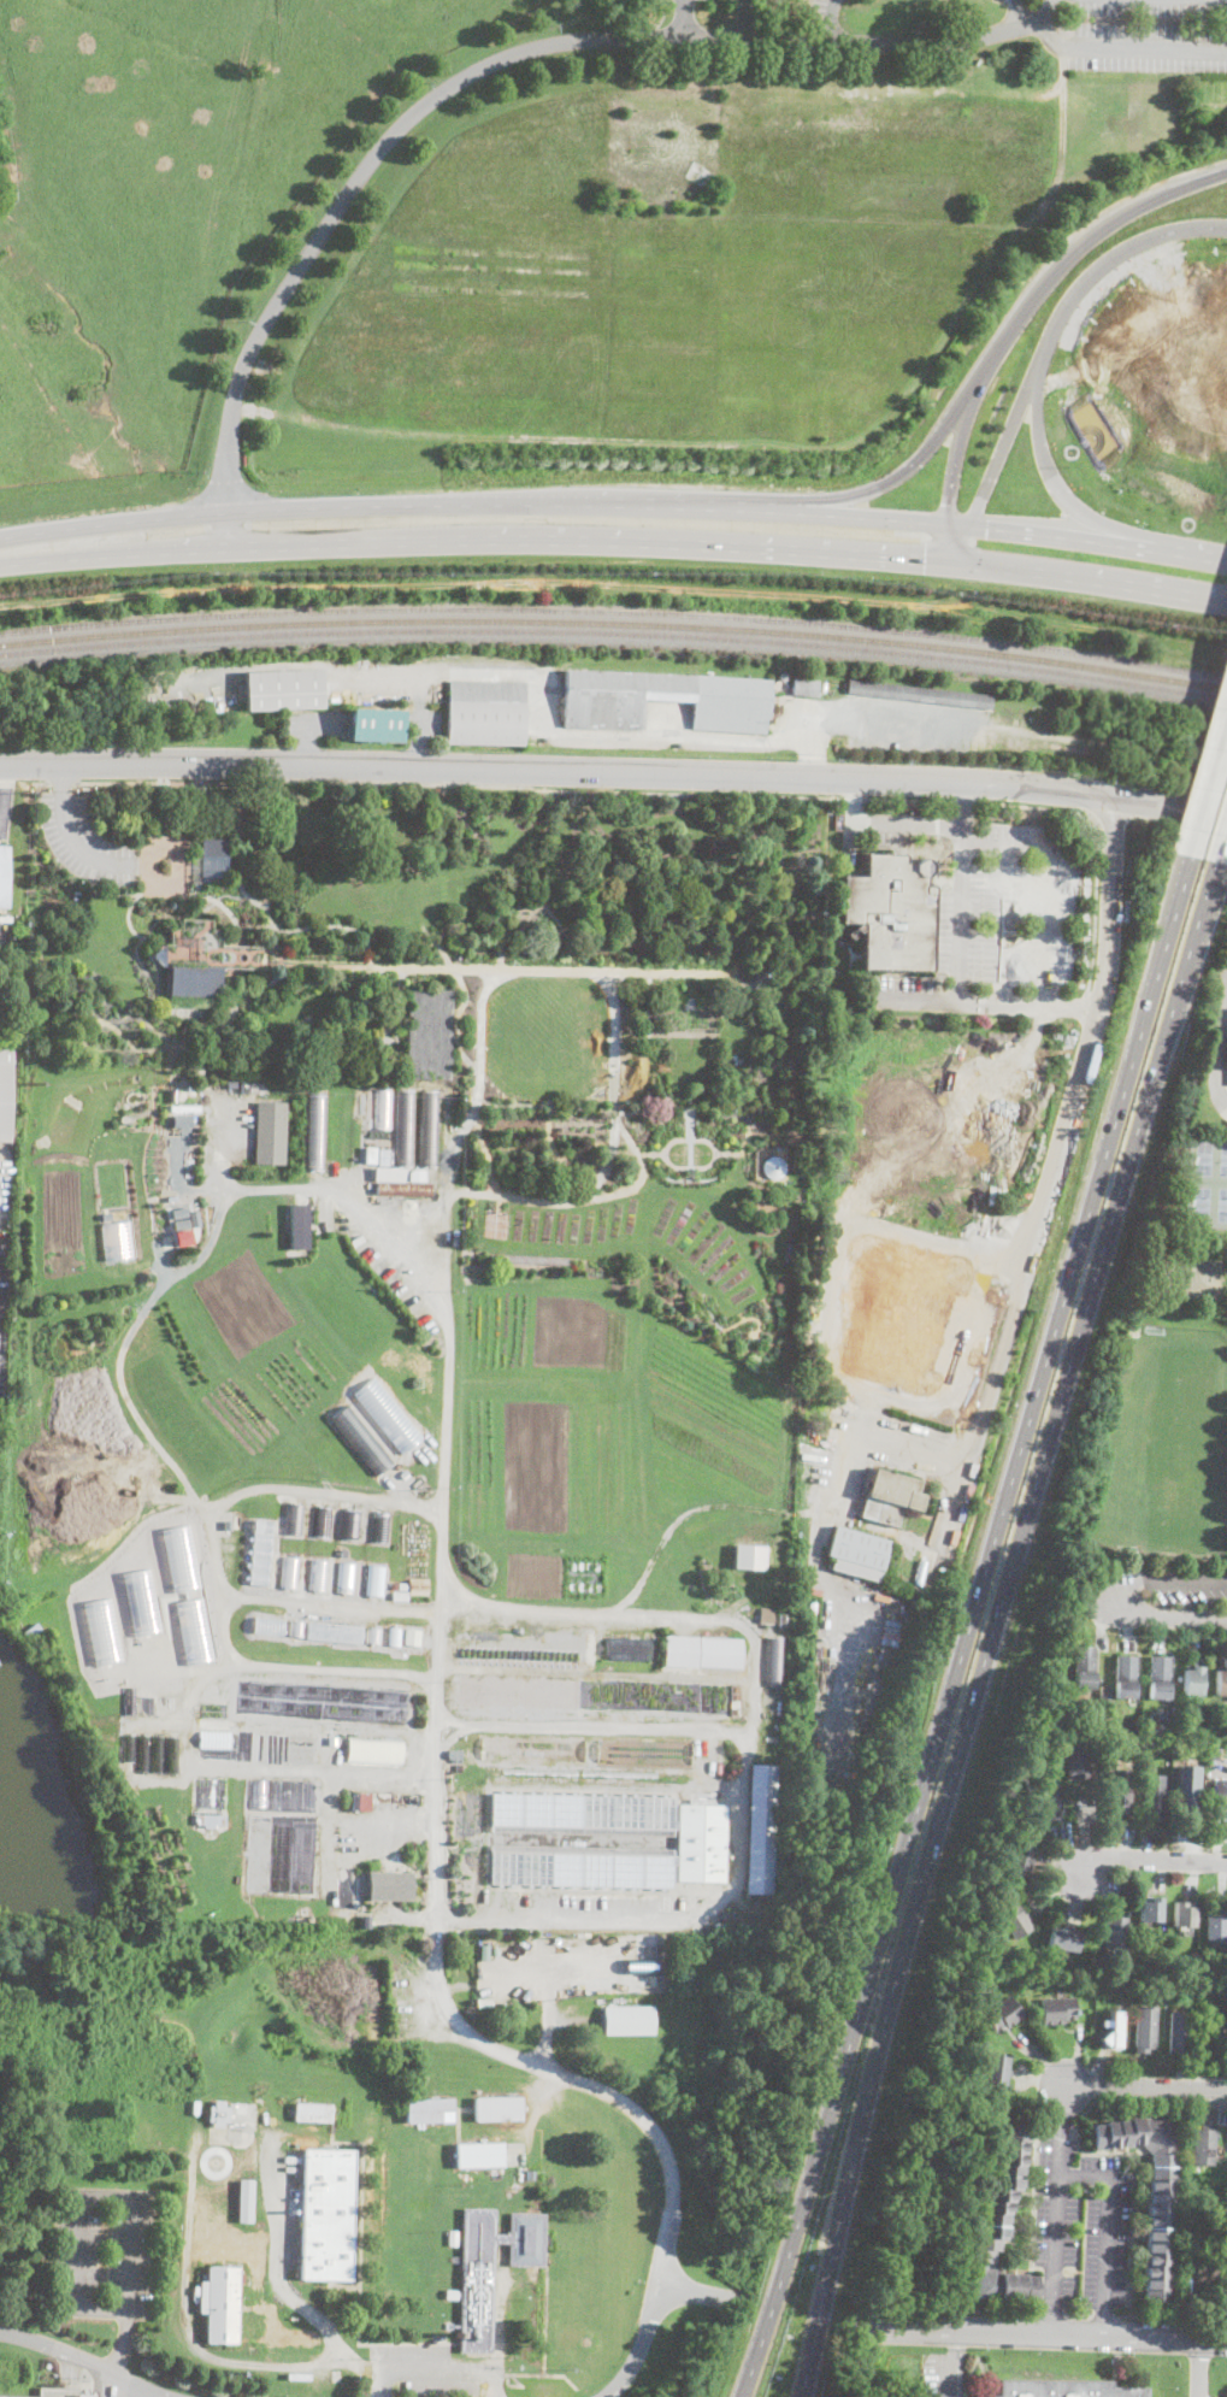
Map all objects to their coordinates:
road: (1042, 13)
road: (685, 18)
road: (751, 19)
road: (1004, 29)
road: (787, 40)
road: (869, 43)
road: (1120, 47)
road: (368, 164)
crop: (161, 204)
road: (1039, 377)
road: (978, 379)
road: (1003, 444)
road: (955, 464)
traffic signals: (949, 503)
road: (483, 506)
traffic signals: (987, 529)
road: (1079, 538)
road: (471, 542)
road: (956, 546)
road: (1208, 561)
traffic signals: (926, 563)
road: (1085, 581)
railway: (614, 609)
railway: (614, 622)
railway: (614, 632)
building: (806, 688)
building: (878, 689)
building: (283, 690)
building: (949, 696)
building: (665, 700)
building: (486, 713)
road: (892, 723)
building: (374, 724)
road: (565, 735)
road: (614, 770)
road: (63, 772)
road: (63, 781)
road: (41, 782)
road: (459, 783)
road: (1209, 793)
road: (6, 797)
road: (850, 797)
road: (853, 797)
road: (908, 799)
road: (965, 800)
road: (965, 803)
road: (909, 823)
road: (201, 829)
road: (0, 832)
road: (76, 847)
parking lot: (92, 848)
building: (213, 848)
road: (1223, 852)
building: (4, 876)
road: (242, 883)
road: (159, 894)
building: (890, 912)
road: (322, 926)
road: (438, 947)
building: (205, 959)
road: (508, 967)
park: (461, 968)
building: (762, 974)
building: (423, 1033)
road: (1215, 1042)
road: (869, 1058)
building: (1226, 1066)
road: (477, 1076)
building: (231, 1083)
building: (253, 1085)
building: (7, 1095)
building: (383, 1109)
building: (406, 1127)
building: (430, 1129)
building: (317, 1132)
building: (271, 1133)
road: (596, 1142)
road: (517, 1144)
road: (555, 1149)
building: (370, 1155)
road: (538, 1156)
road: (509, 1160)
building: (772, 1166)
road: (596, 1167)
building: (395, 1171)
road: (519, 1173)
road: (542, 1180)
road: (601, 1180)
park: (1205, 1182)
building: (403, 1189)
road: (596, 1198)
building: (182, 1223)
building: (299, 1225)
building: (789, 1249)
park: (1192, 1277)
building: (898, 1313)
building: (403, 1342)
park: (1158, 1392)
building: (362, 1439)
building: (889, 1495)
building: (294, 1519)
building: (236, 1523)
building: (323, 1523)
building: (350, 1524)
building: (381, 1527)
road: (666, 1533)
building: (260, 1553)
building: (856, 1553)
building: (749, 1555)
building: (289, 1573)
building: (318, 1576)
building: (346, 1578)
building: (376, 1580)
building: (400, 1586)
building: (418, 1586)
building: (400, 1595)
road: (1102, 1597)
building: (141, 1600)
road: (334, 1603)
building: (812, 1606)
building: (767, 1612)
building: (784, 1619)
road: (995, 1625)
building: (269, 1626)
road: (969, 1627)
building: (33, 1630)
building: (102, 1630)
building: (334, 1632)
building: (394, 1635)
building: (411, 1635)
building: (626, 1649)
building: (680, 1651)
building: (719, 1653)
building: (774, 1660)
road: (214, 1667)
building: (1084, 1667)
road: (331, 1668)
building: (1125, 1677)
building: (1158, 1677)
building: (1193, 1678)
building: (1221, 1679)
road: (754, 1680)
building: (1104, 1690)
building: (129, 1700)
building: (147, 1703)
road: (436, 1707)
building: (213, 1709)
building: (332, 1739)
building: (129, 1747)
building: (374, 1749)
building: (142, 1750)
building: (588, 1750)
building: (157, 1751)
building: (172, 1753)
building: (1214, 1753)
building: (1187, 1754)
building: (1078, 1755)
building: (459, 1760)
road: (381, 1771)
building: (1188, 1783)
building: (1120, 1791)
building: (1221, 1795)
building: (1049, 1796)
building: (1155, 1797)
building: (284, 1800)
building: (361, 1800)
building: (583, 1814)
building: (222, 1819)
building: (206, 1821)
building: (761, 1830)
building: (701, 1842)
building: (1024, 1854)
road: (1149, 1860)
building: (281, 1861)
building: (580, 1866)
building: (390, 1886)
building: (1150, 1909)
building: (1182, 1914)
road: (671, 1916)
building: (365, 1920)
building: (1014, 1921)
building: (1217, 1921)
building: (719, 1925)
building: (1114, 1933)
building: (1064, 1938)
building: (484, 1951)
building: (639, 1963)
building: (1180, 1963)
building: (1149, 1966)
building: (979, 1981)
building: (1024, 1983)
building: (1170, 1998)
building: (1158, 2000)
building: (1057, 2010)
building: (1003, 2014)
building: (627, 2019)
building: (1113, 2028)
building: (1144, 2028)
building: (1179, 2032)
building: (1215, 2046)
building: (997, 2069)
road: (1145, 2086)
building: (497, 2109)
building: (313, 2110)
building: (429, 2110)
building: (218, 2114)
building: (1203, 2145)
building: (479, 2155)
building: (216, 2162)
building: (1152, 2193)
road: (114, 2196)
building: (246, 2201)
road: (1057, 2207)
building: (328, 2213)
parking lot: (1080, 2221)
building: (999, 2226)
road: (1107, 2230)
building: (452, 2238)
building: (226, 2240)
road: (1132, 2244)
parking lot: (105, 2252)
building: (259, 2255)
building: (491, 2268)
building: (1207, 2272)
road: (285, 2286)
building: (452, 2295)
road: (655, 2303)
building: (220, 2304)
road: (972, 2311)
road: (1054, 2314)
road: (1080, 2314)
road: (1105, 2315)
road: (1148, 2316)
road: (1039, 2331)
road: (189, 2333)
building: (295, 2337)
road: (957, 2342)
road: (85, 2360)
road: (1199, 2367)
road: (444, 2372)
road: (946, 2373)
road: (111, 2384)
building: (1067, 2389)
building: (84, 2396)

